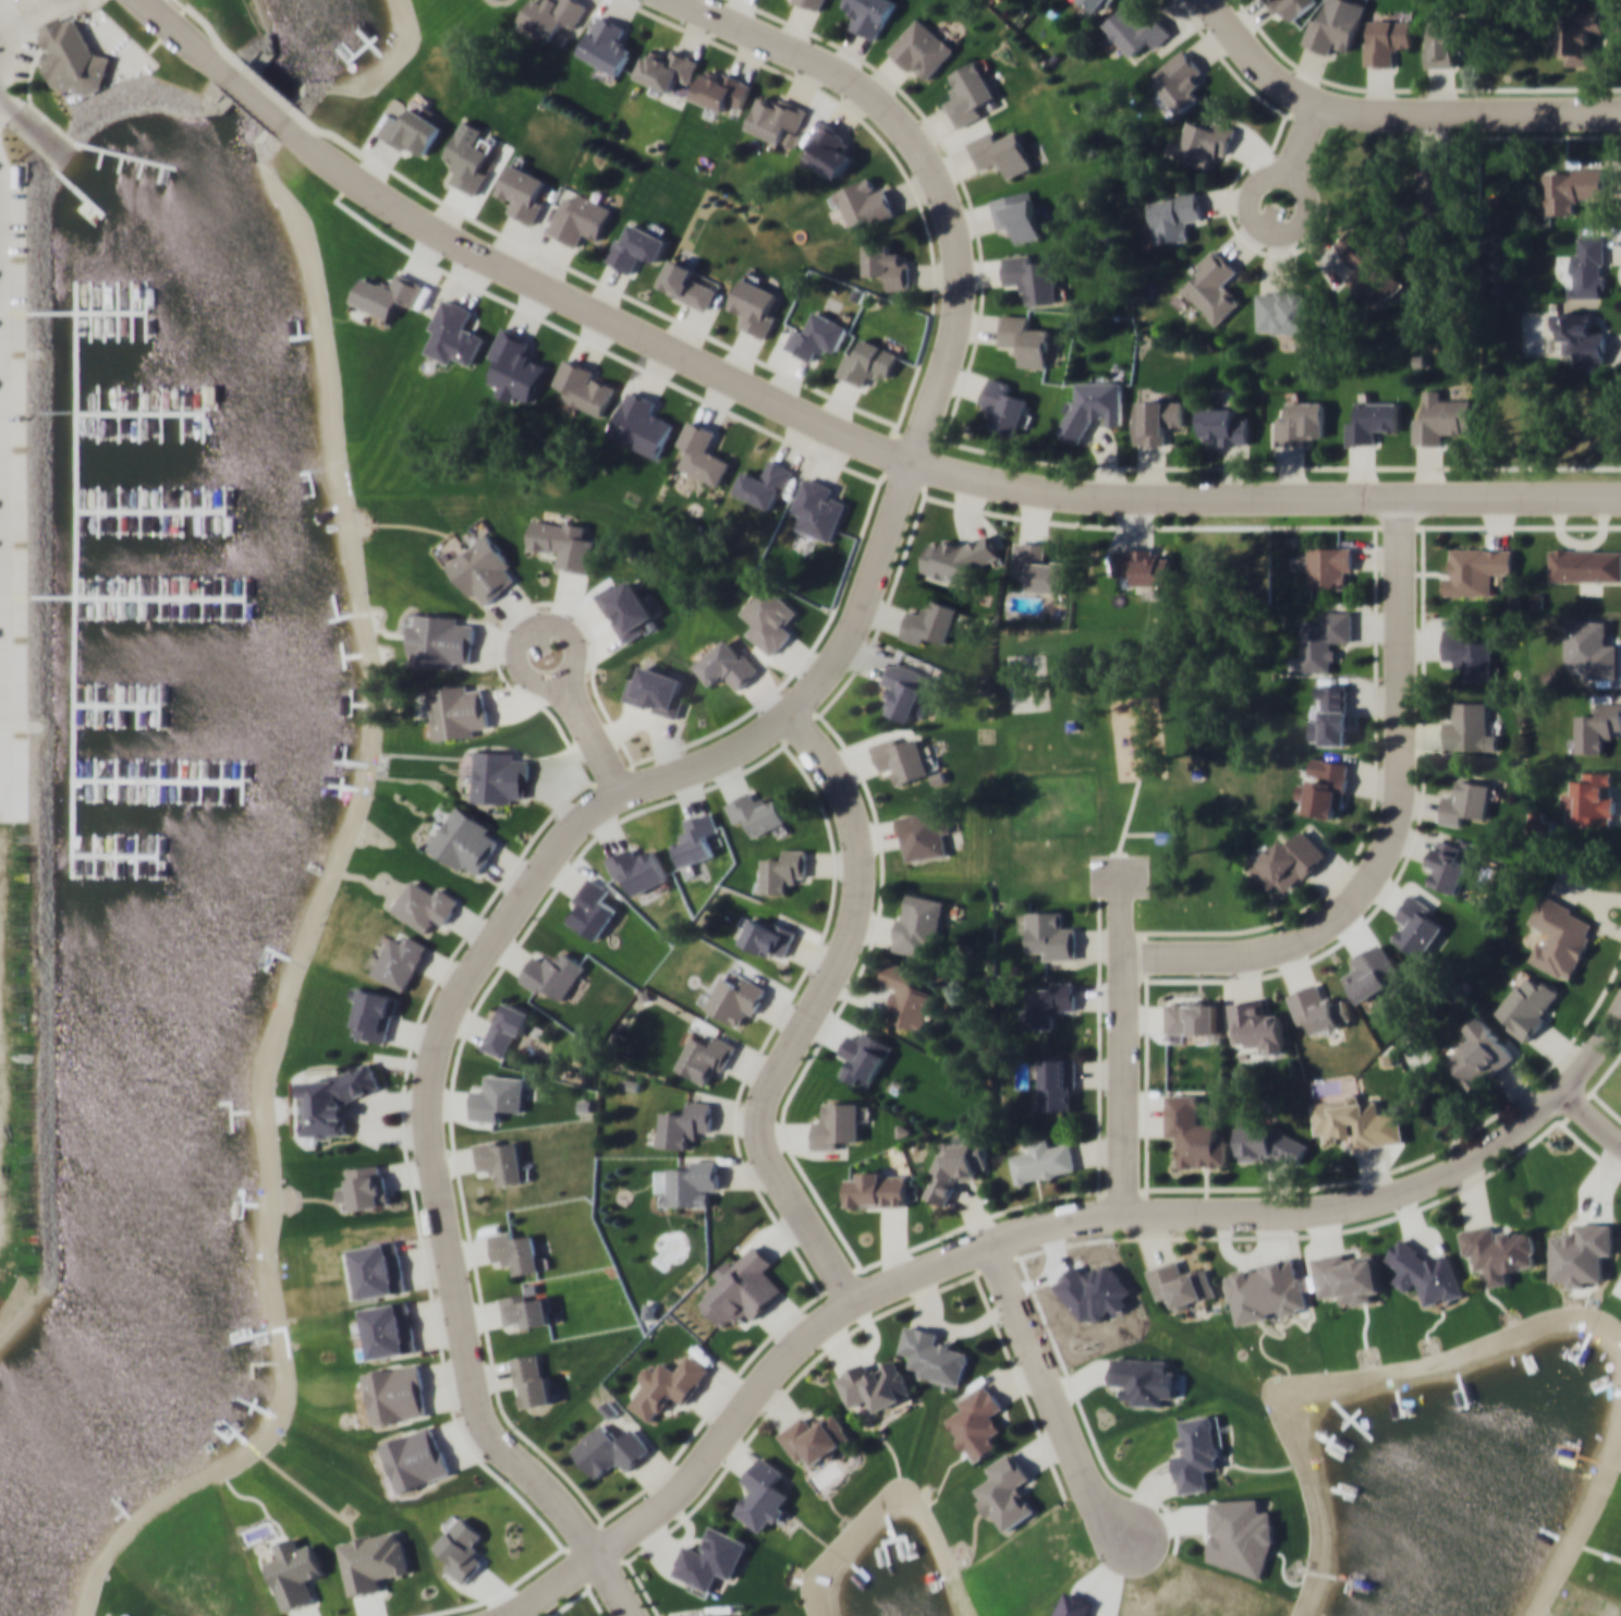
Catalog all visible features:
building: (812, 3)
building: (1097, 4)
building: (1290, 7)
building: (868, 15)
building: (550, 16)
building: (1136, 28)
building: (1332, 28)
building: (1581, 32)
building: (1385, 39)
road: (190, 40)
building: (1443, 40)
building: (607, 44)
building: (922, 48)
building: (74, 57)
building: (668, 69)
building: (1179, 80)
building: (722, 89)
building: (968, 93)
road: (263, 101)
building: (776, 116)
road: (1391, 116)
building: (412, 130)
building: (1204, 142)
building: (830, 147)
building: (1000, 151)
building: (465, 161)
road: (929, 167)
building: (1572, 187)
building: (1438, 190)
building: (523, 191)
building: (864, 202)
building: (1017, 215)
building: (1175, 215)
building: (580, 218)
road: (1295, 226)
building: (635, 245)
building: (887, 264)
building: (1587, 267)
building: (1368, 268)
building: (1032, 277)
building: (686, 283)
building: (1212, 285)
building: (380, 297)
building: (754, 305)
building: (1291, 308)
building: (454, 332)
building: (818, 336)
building: (1581, 336)
building: (1024, 339)
building: (868, 362)
building: (585, 387)
building: (1005, 406)
building: (1093, 406)
building: (1440, 417)
building: (1156, 421)
building: (1373, 421)
building: (1301, 422)
building: (641, 424)
building: (1223, 425)
building: (703, 452)
road: (910, 463)
building: (766, 484)
building: (818, 509)
building: (563, 542)
building: (955, 557)
building: (1585, 564)
building: (1041, 567)
building: (1143, 567)
building: (1330, 567)
building: (483, 569)
building: (1476, 569)
building: (625, 607)
building: (768, 618)
building: (929, 621)
building: (1325, 639)
building: (441, 640)
building: (1470, 652)
building: (728, 664)
building: (905, 689)
building: (655, 691)
building: (459, 710)
building: (1332, 714)
road: (584, 719)
building: (1597, 726)
building: (1468, 728)
building: (899, 756)
park: (1128, 767)
building: (499, 776)
building: (1326, 787)
building: (1590, 799)
building: (1466, 801)
building: (757, 812)
road: (1393, 827)
building: (924, 833)
building: (695, 838)
building: (465, 840)
building: (1291, 860)
building: (1448, 864)
building: (638, 867)
building: (784, 870)
building: (425, 904)
building: (590, 908)
building: (918, 924)
building: (1418, 926)
building: (1050, 933)
building: (1560, 936)
building: (769, 937)
building: (401, 961)
building: (552, 972)
road: (466, 974)
building: (906, 996)
building: (735, 999)
building: (1050, 1003)
building: (1528, 1006)
building: (1318, 1009)
road: (810, 1013)
building: (375, 1014)
building: (1192, 1017)
building: (507, 1025)
building: (1257, 1025)
building: (1479, 1054)
building: (706, 1058)
building: (1057, 1081)
road: (1568, 1085)
road: (1129, 1090)
building: (497, 1096)
building: (336, 1098)
building: (1349, 1120)
building: (685, 1122)
building: (837, 1125)
building: (1193, 1132)
building: (1269, 1143)
building: (501, 1157)
building: (1043, 1161)
building: (956, 1163)
building: (693, 1181)
building: (369, 1184)
building: (878, 1188)
road: (1038, 1228)
building: (515, 1250)
building: (1499, 1250)
building: (1582, 1252)
building: (379, 1268)
building: (1346, 1277)
building: (1181, 1283)
building: (1267, 1289)
building: (527, 1310)
building: (390, 1328)
building: (934, 1354)
building: (532, 1378)
building: (874, 1384)
building: (668, 1385)
road: (1053, 1388)
building: (395, 1392)
building: (978, 1422)
building: (816, 1436)
building: (610, 1448)
building: (1197, 1451)
building: (416, 1458)
building: (1008, 1492)
building: (764, 1494)
building: (711, 1558)
building: (373, 1559)
building: (294, 1571)
road: (551, 1583)
building: (716, 1614)

